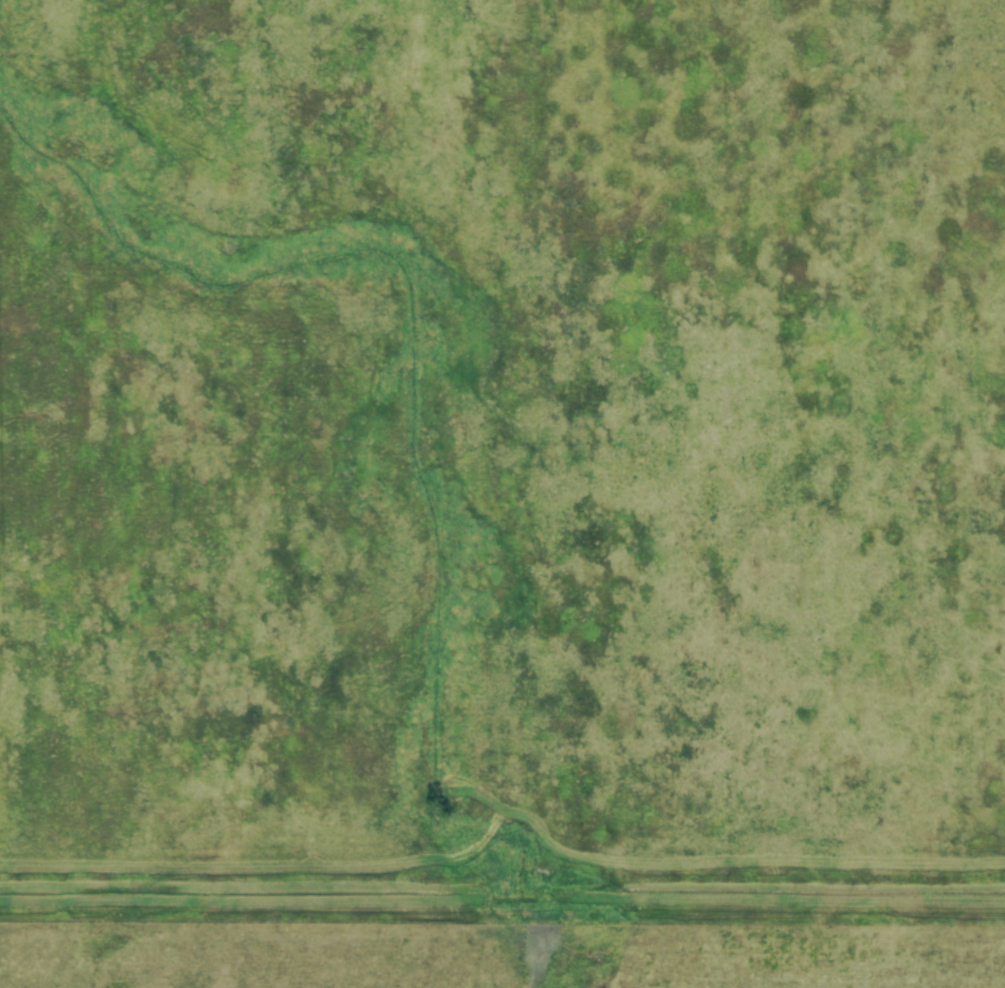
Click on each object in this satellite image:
road: (502, 893)

